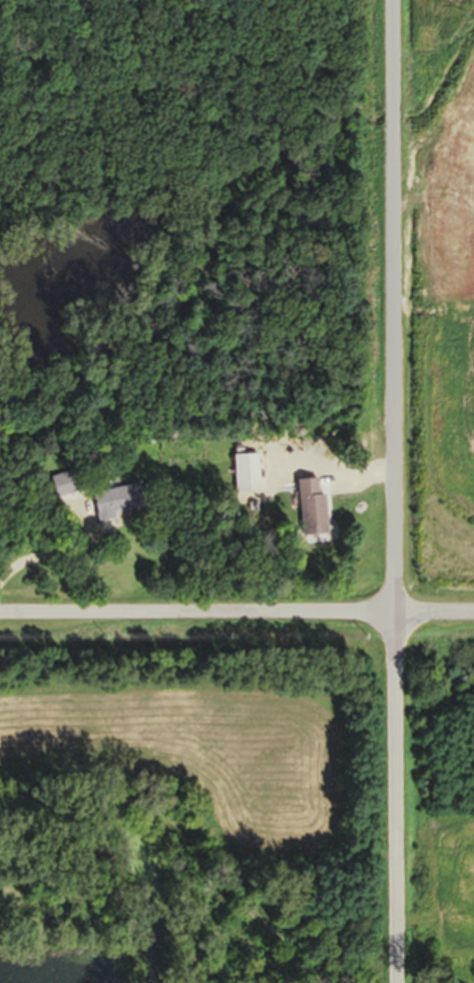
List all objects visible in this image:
building: (242, 477)
road: (392, 491)
building: (114, 505)
building: (307, 515)
road: (237, 611)

